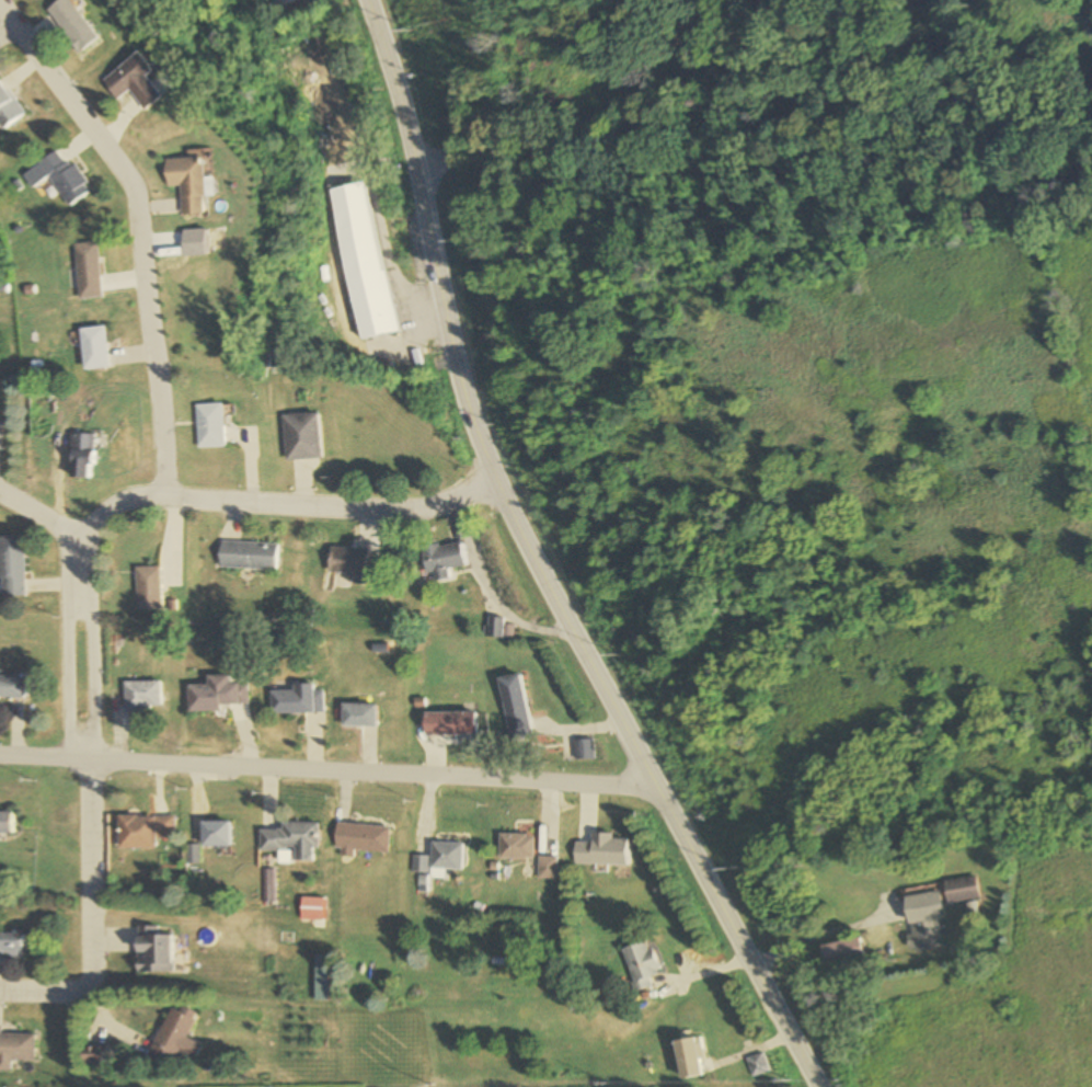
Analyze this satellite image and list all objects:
building: (272, 3)
road: (3, 25)
building: (71, 25)
building: (134, 83)
building: (7, 110)
road: (752, 128)
building: (54, 178)
building: (185, 184)
road: (141, 232)
building: (363, 262)
building: (87, 266)
building: (93, 348)
building: (209, 426)
building: (0, 435)
building: (301, 436)
building: (80, 457)
road: (286, 502)
road: (42, 513)
building: (248, 554)
building: (442, 559)
building: (349, 562)
road: (537, 563)
building: (12, 565)
building: (149, 585)
road: (87, 649)
building: (11, 687)
building: (217, 695)
building: (141, 696)
building: (298, 701)
building: (515, 708)
building: (359, 716)
building: (449, 723)
building: (584, 750)
road: (325, 773)
building: (5, 822)
building: (142, 831)
building: (215, 833)
building: (363, 837)
building: (291, 839)
building: (517, 846)
building: (447, 855)
building: (549, 867)
building: (962, 889)
building: (311, 908)
building: (926, 922)
road: (90, 925)
building: (11, 945)
building: (152, 950)
building: (843, 950)
building: (641, 963)
building: (173, 1038)
building: (15, 1048)
building: (93, 1055)
building: (690, 1057)
building: (756, 1066)

